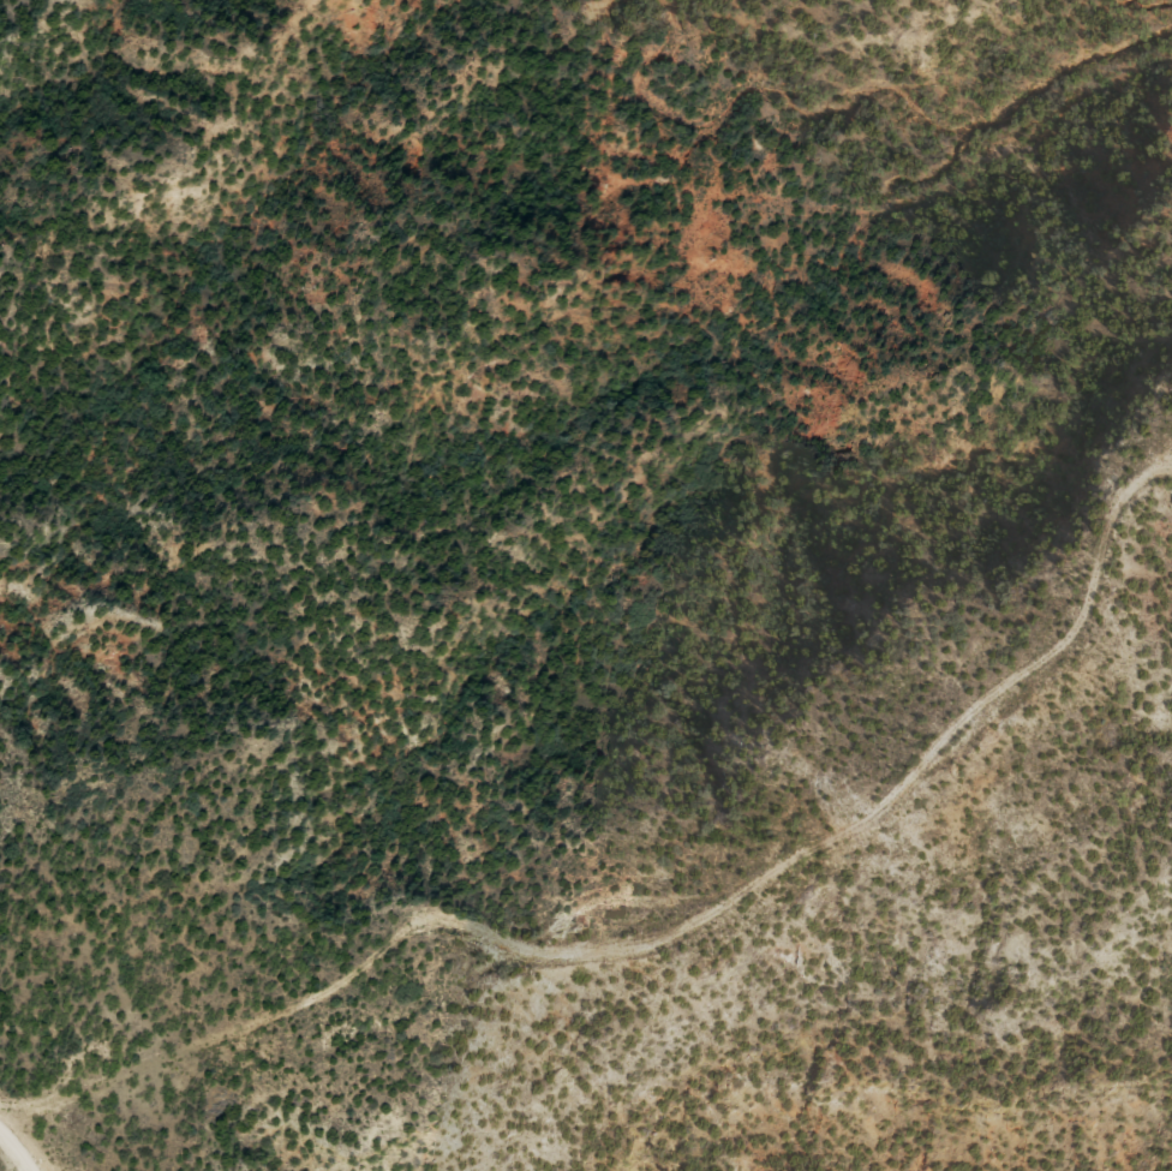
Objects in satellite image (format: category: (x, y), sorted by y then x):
road: (13, 147)
road: (815, 1023)
road: (60, 1057)
road: (24, 1141)

